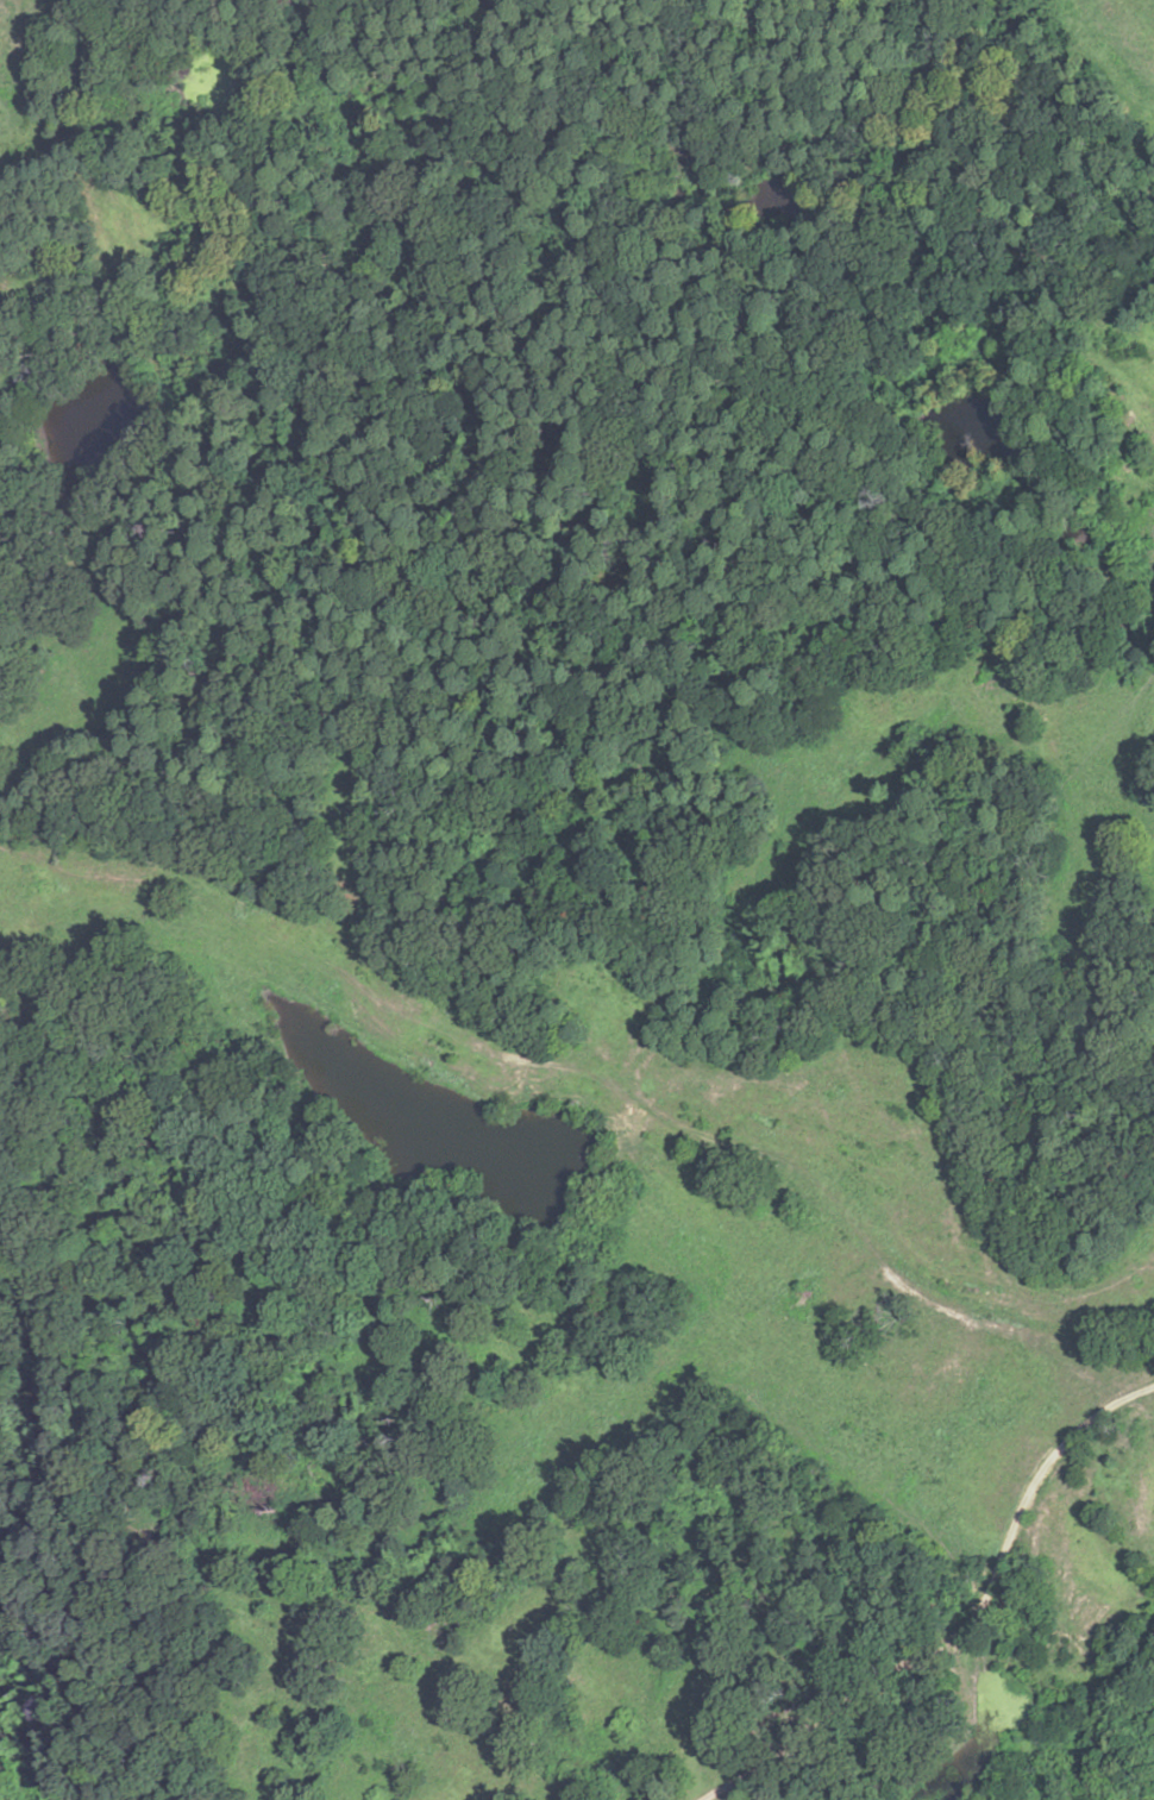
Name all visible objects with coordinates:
road: (15, 746)
road: (921, 1585)

